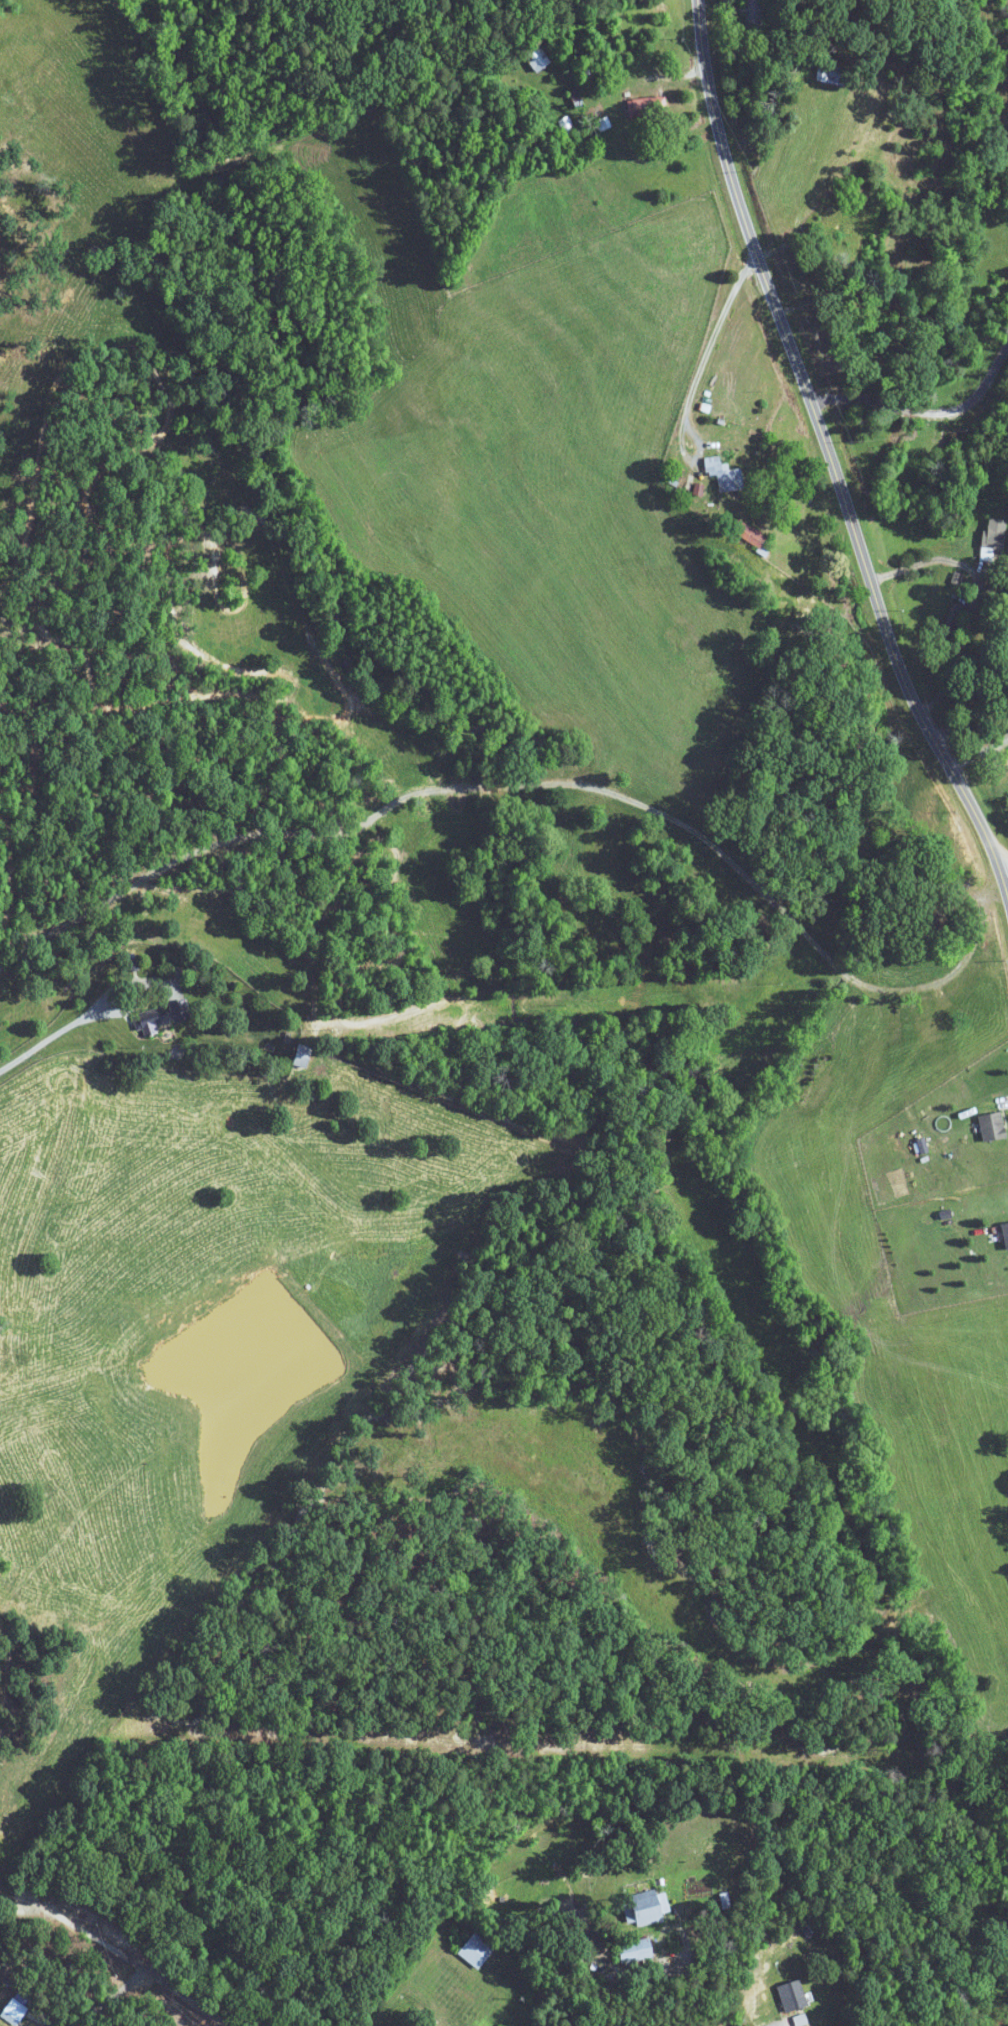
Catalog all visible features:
building: (751, 14)
building: (537, 59)
building: (831, 75)
building: (646, 108)
building: (567, 125)
building: (854, 234)
road: (698, 385)
road: (929, 408)
road: (824, 456)
building: (724, 474)
building: (750, 536)
building: (993, 541)
road: (931, 561)
building: (952, 616)
road: (960, 654)
road: (973, 712)
road: (979, 755)
road: (1005, 871)
building: (927, 927)
building: (132, 965)
road: (134, 994)
building: (152, 1022)
road: (45, 1039)
building: (301, 1056)
building: (991, 1126)
building: (1005, 1232)
building: (649, 1907)
building: (475, 1950)
building: (635, 1952)
road: (125, 1953)
road: (694, 1971)
road: (407, 1973)
building: (791, 1995)
road: (113, 1996)
building: (15, 2009)

